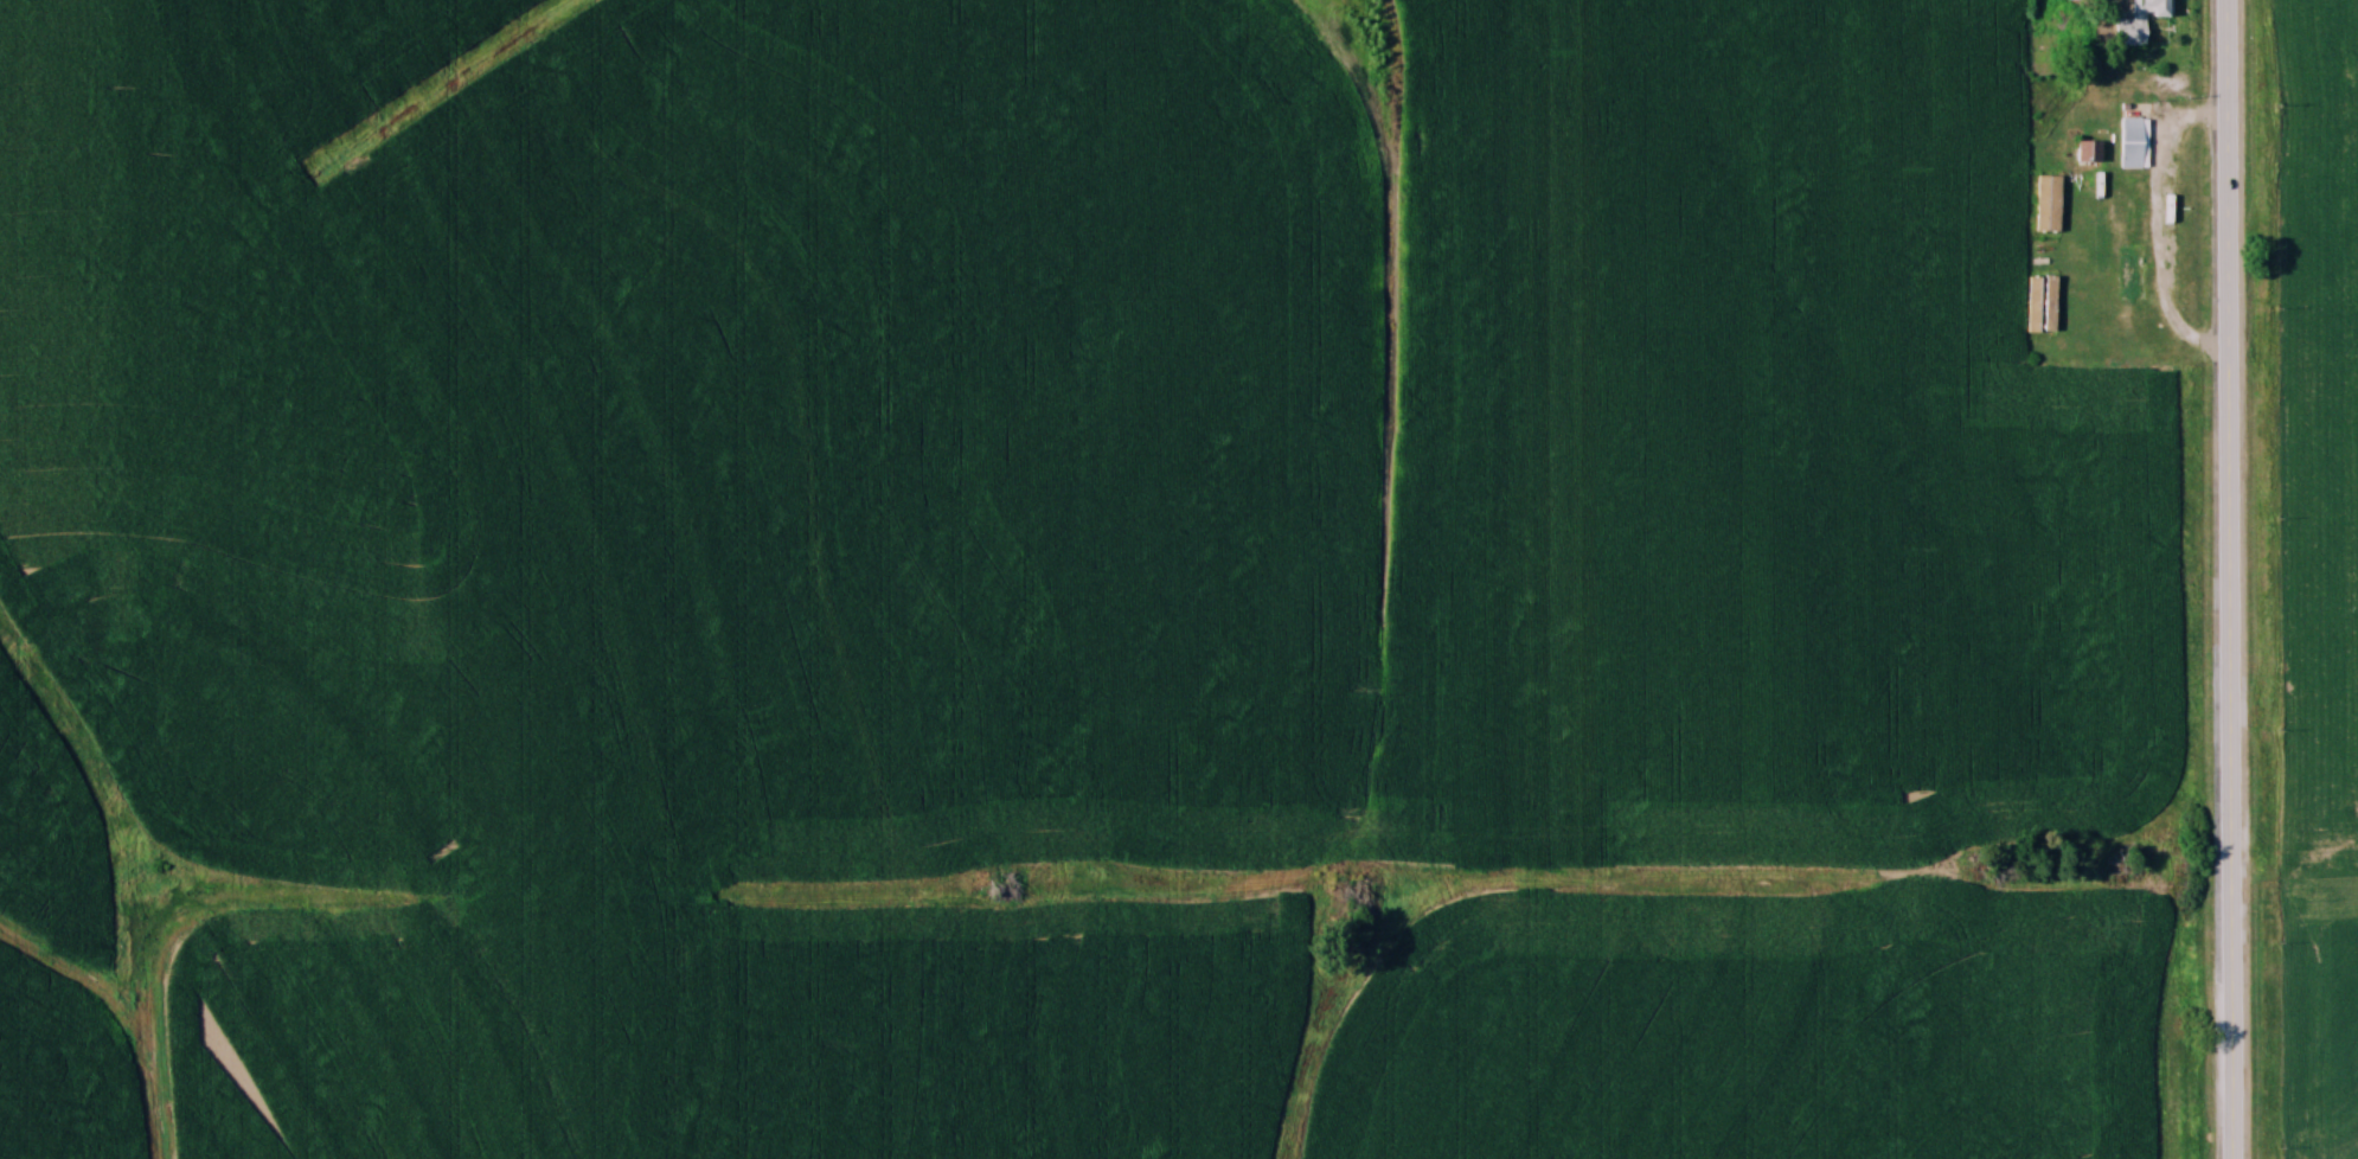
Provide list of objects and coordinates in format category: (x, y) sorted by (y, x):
building: (2140, 21)
building: (2133, 143)
building: (2089, 153)
building: (2128, 212)
road: (2154, 224)
building: (2132, 281)
building: (2152, 340)
road: (2225, 579)

